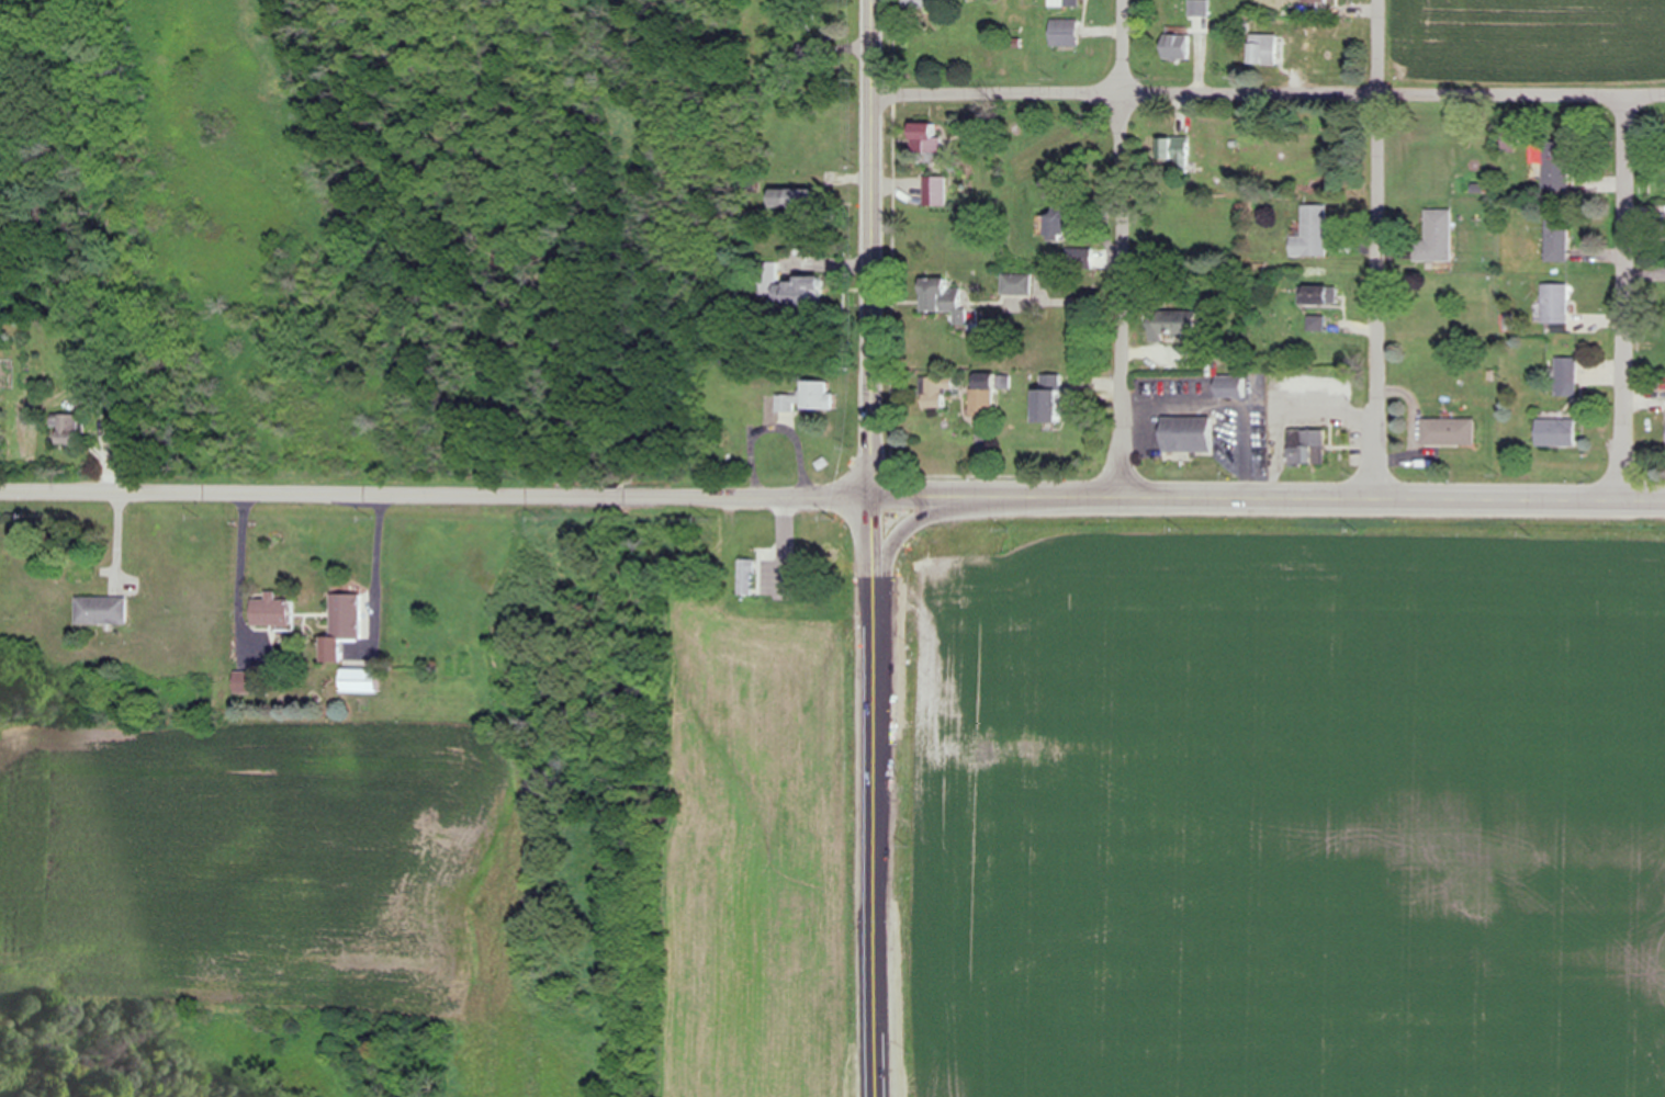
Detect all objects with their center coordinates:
building: (1065, 2)
building: (916, 3)
building: (1316, 8)
building: (1202, 9)
building: (1267, 50)
road: (1270, 91)
building: (925, 138)
building: (1175, 151)
building: (1556, 176)
building: (940, 188)
building: (794, 200)
building: (1314, 234)
building: (1438, 237)
building: (1559, 240)
road: (876, 248)
road: (1125, 248)
road: (1379, 248)
building: (1017, 284)
building: (805, 290)
building: (1318, 295)
road: (1631, 296)
building: (944, 298)
building: (1556, 303)
building: (1173, 325)
building: (1565, 373)
building: (938, 389)
building: (811, 398)
building: (983, 404)
building: (1047, 407)
building: (69, 429)
building: (1449, 431)
building: (1557, 432)
building: (1188, 434)
building: (1308, 448)
road: (439, 495)
road: (1271, 497)
road: (787, 547)
road: (245, 558)
road: (380, 558)
parking lot: (773, 577)
building: (747, 578)
building: (103, 611)
building: (273, 611)
building: (344, 626)
building: (360, 681)
road: (875, 796)

